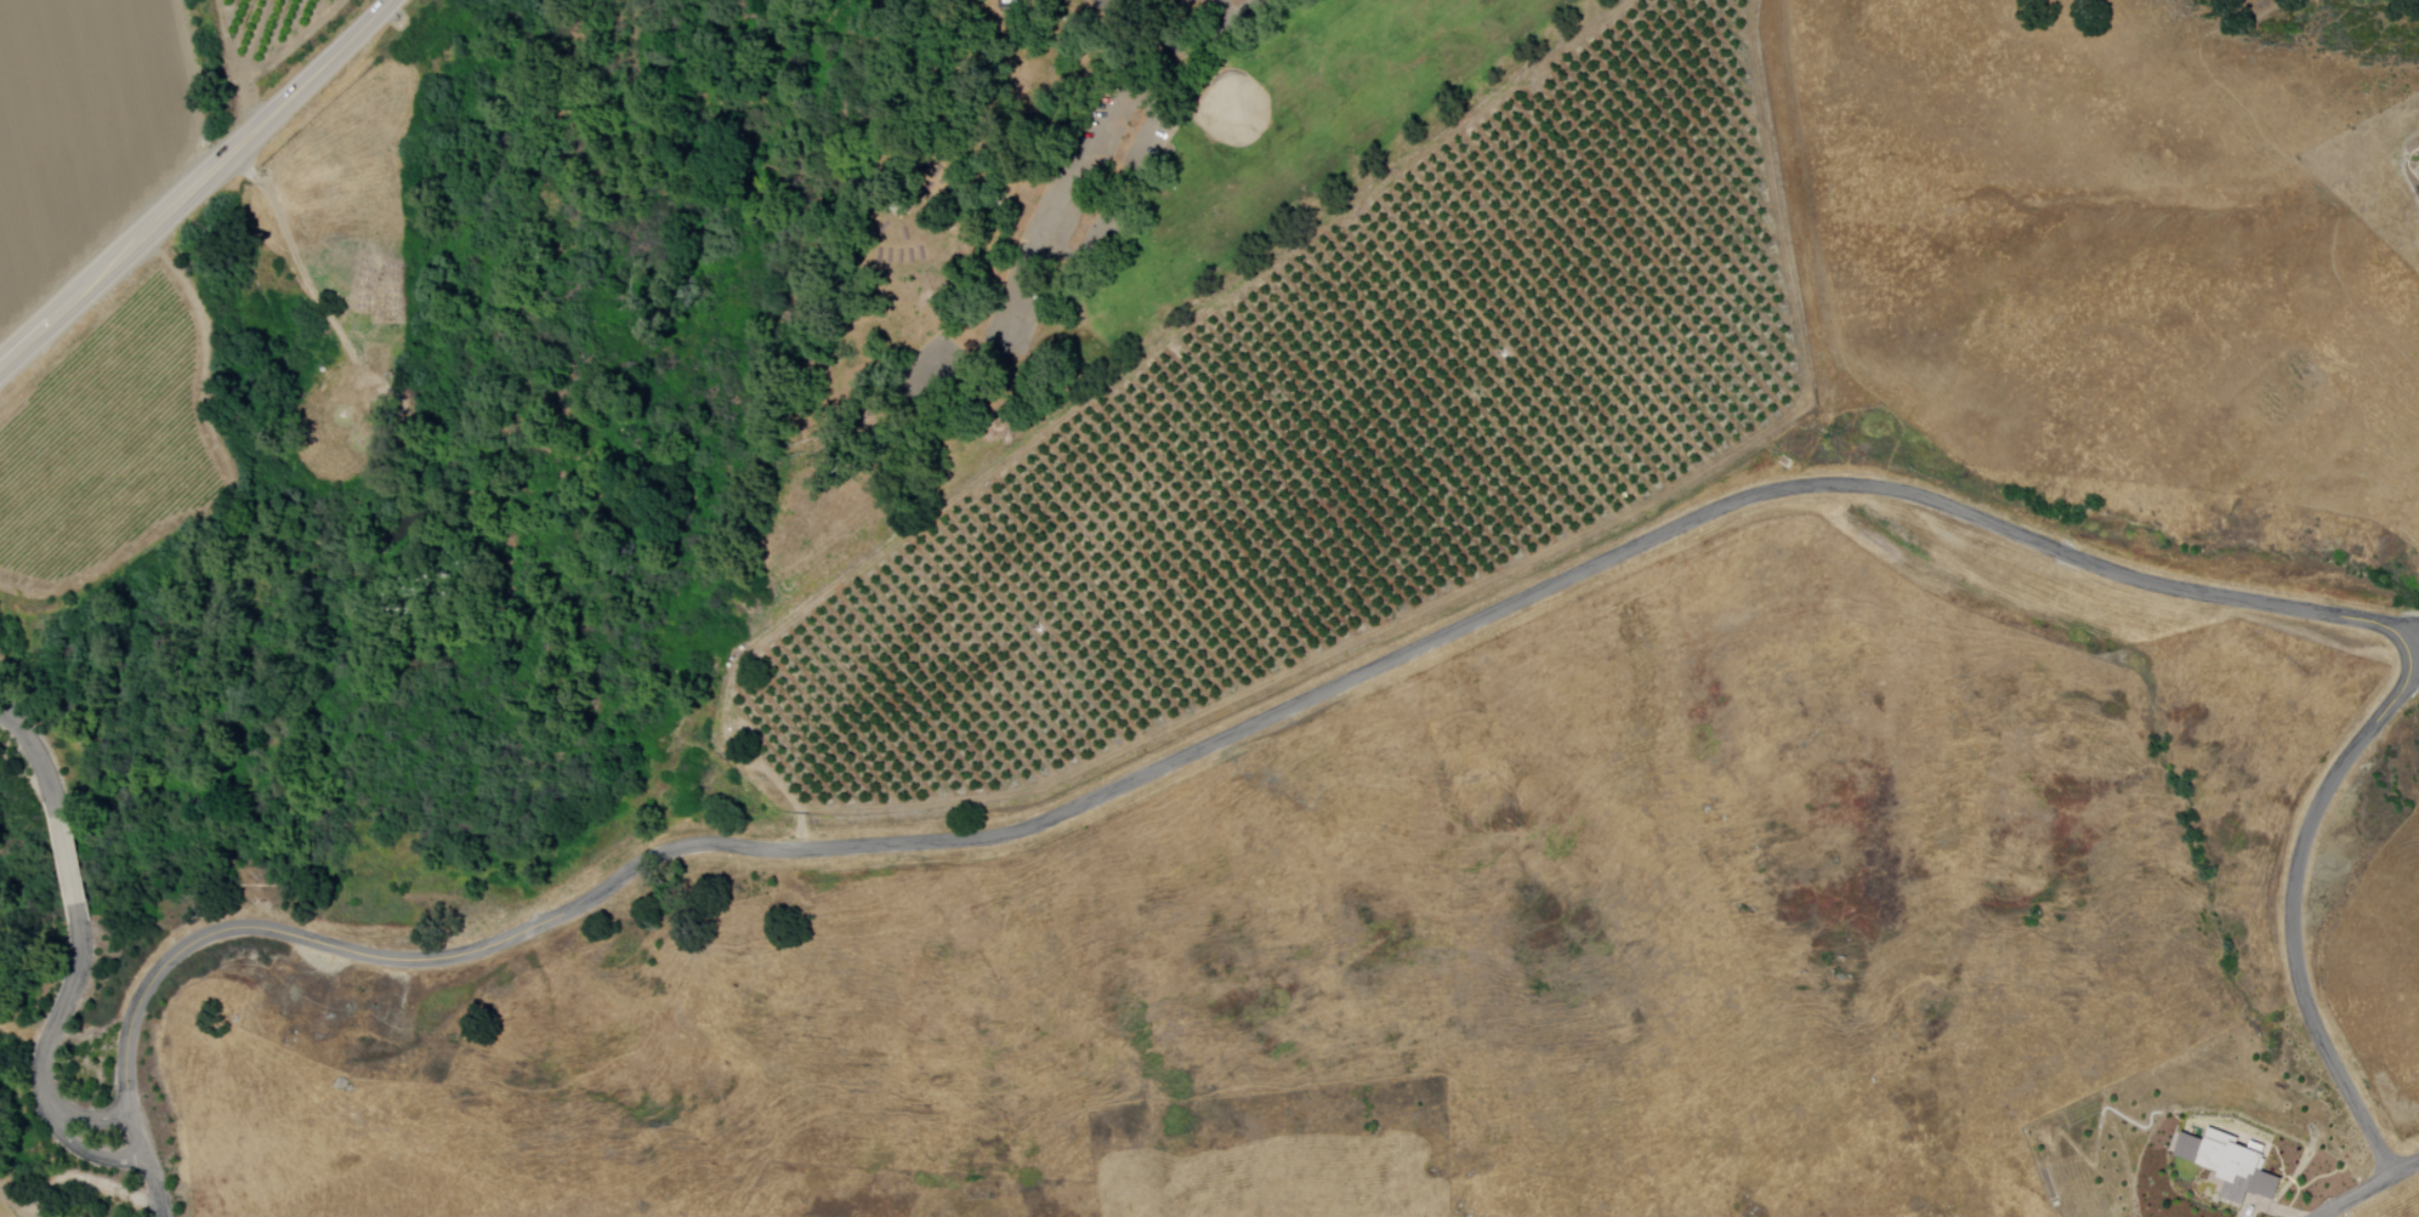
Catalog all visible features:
parking lot: (1120, 6)
crop: (118, 112)
crop: (80, 126)
park: (1304, 137)
road: (1081, 182)
road: (197, 186)
parking lot: (1125, 192)
park: (983, 199)
road: (1118, 204)
building: (904, 205)
road: (1813, 249)
parking lot: (925, 375)
road: (1455, 632)
road: (8, 715)
road: (8, 722)
road: (39, 758)
road: (70, 863)
road: (67, 1005)
road: (76, 1114)
road: (74, 1143)
building: (2230, 1162)
road: (158, 1187)
road: (2367, 1187)
crop: (7, 1207)
crop: (2, 1212)

